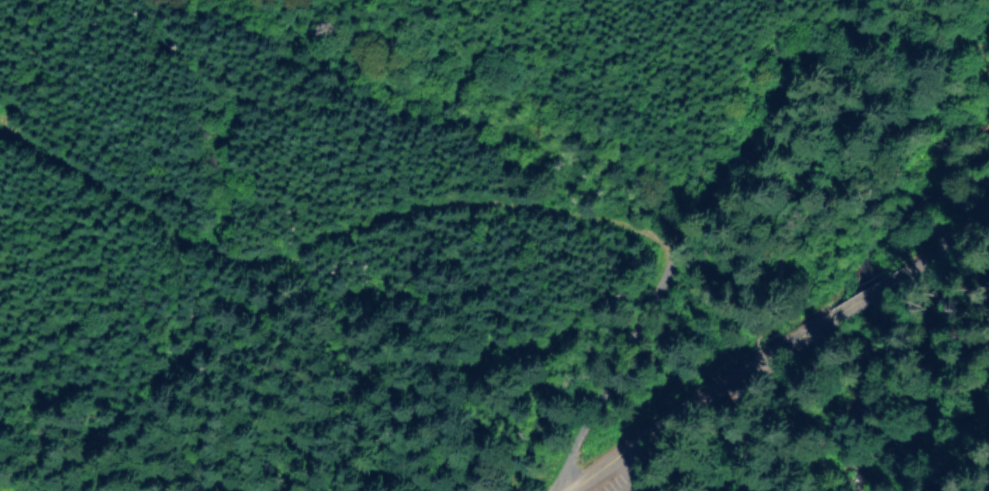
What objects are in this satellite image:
road: (718, 197)
road: (799, 227)
road: (942, 246)
road: (947, 283)
road: (868, 292)
road: (704, 392)
parking lot: (628, 476)
road: (639, 483)

